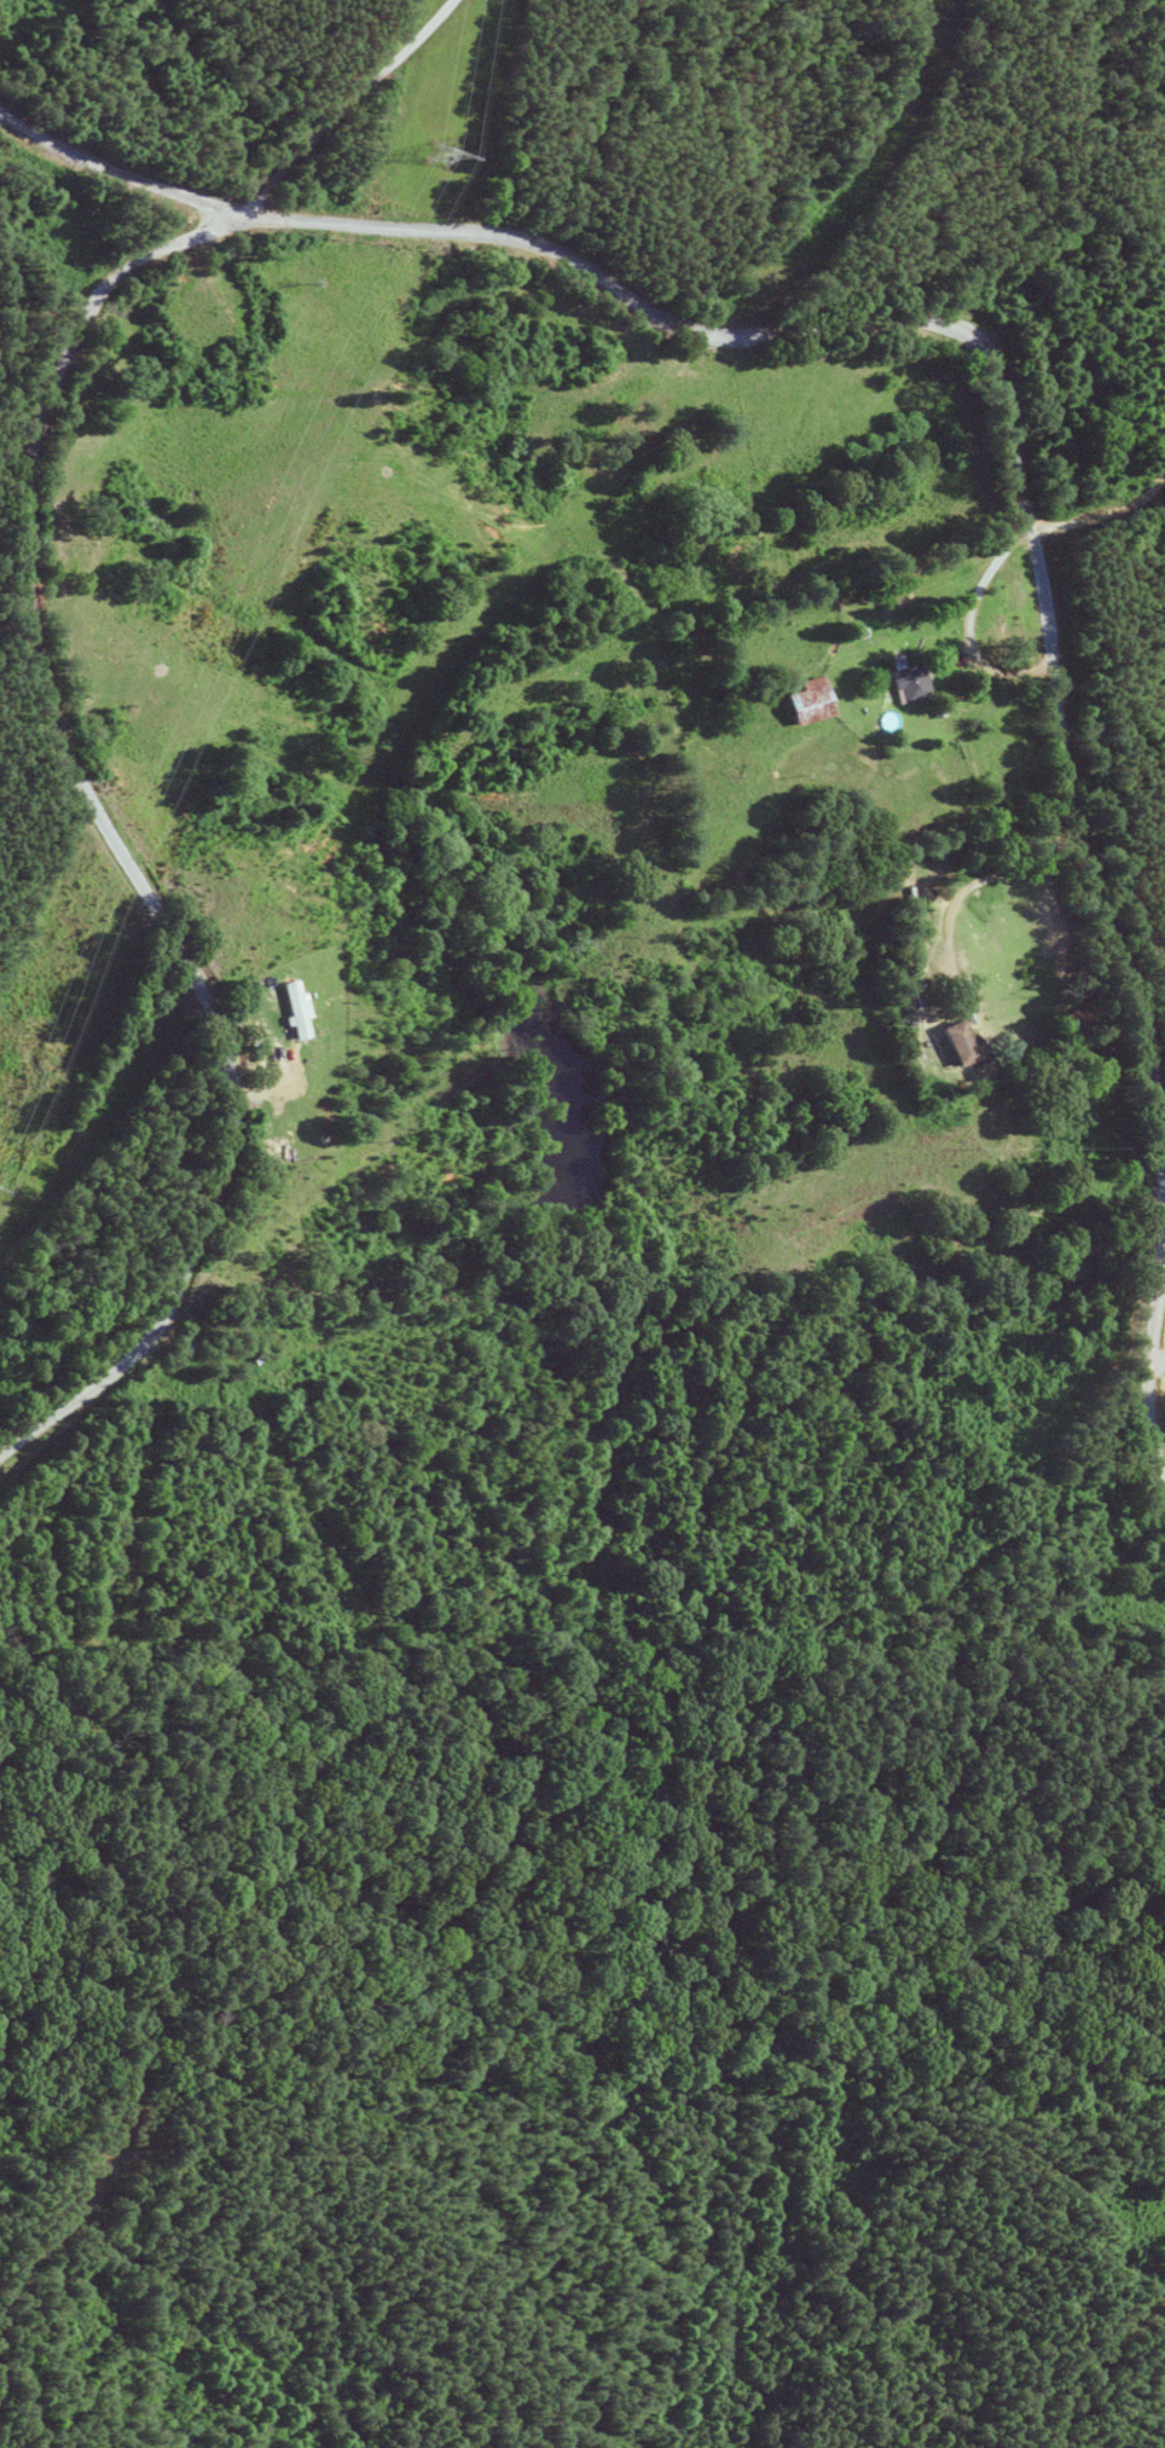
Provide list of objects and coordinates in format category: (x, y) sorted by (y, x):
power tower: (435, 152)
road: (871, 261)
building: (905, 684)
building: (804, 702)
road: (128, 774)
road: (963, 886)
building: (291, 1005)
building: (955, 1042)

